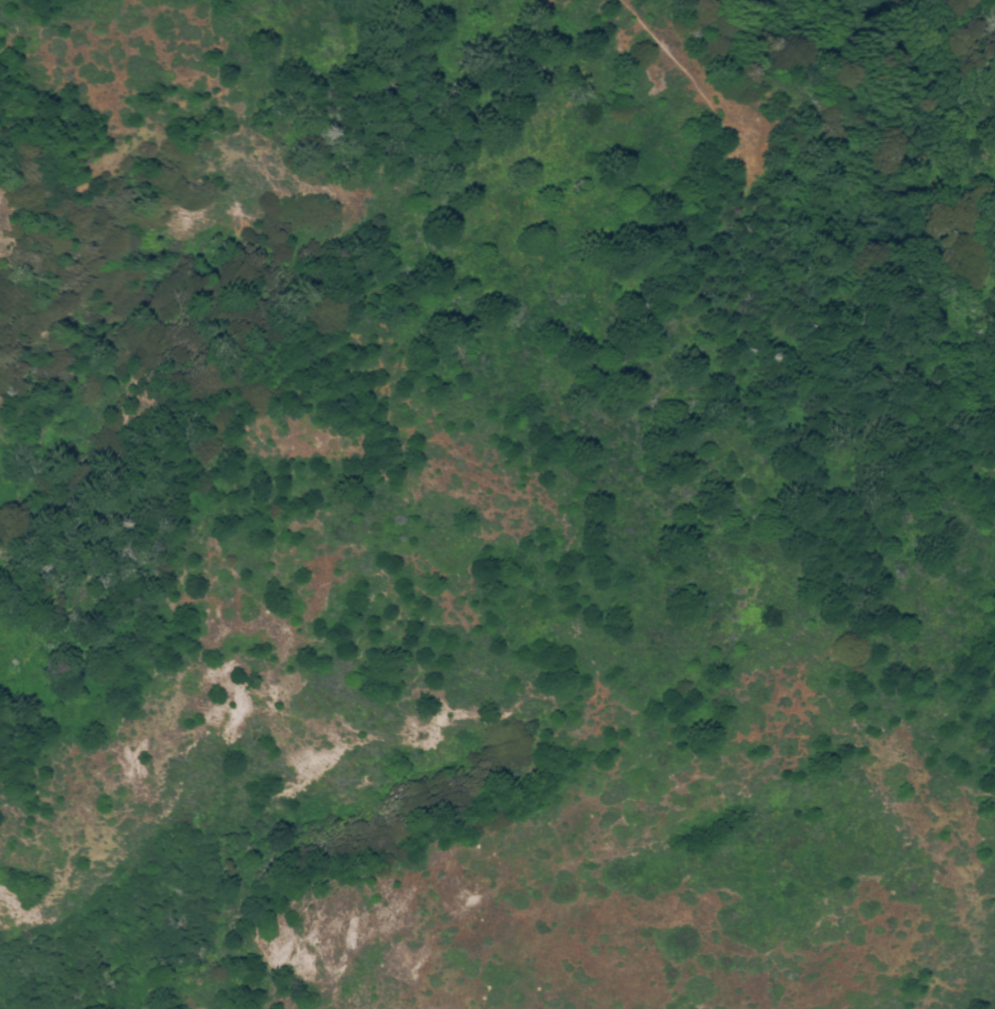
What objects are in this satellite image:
road: (929, 367)

